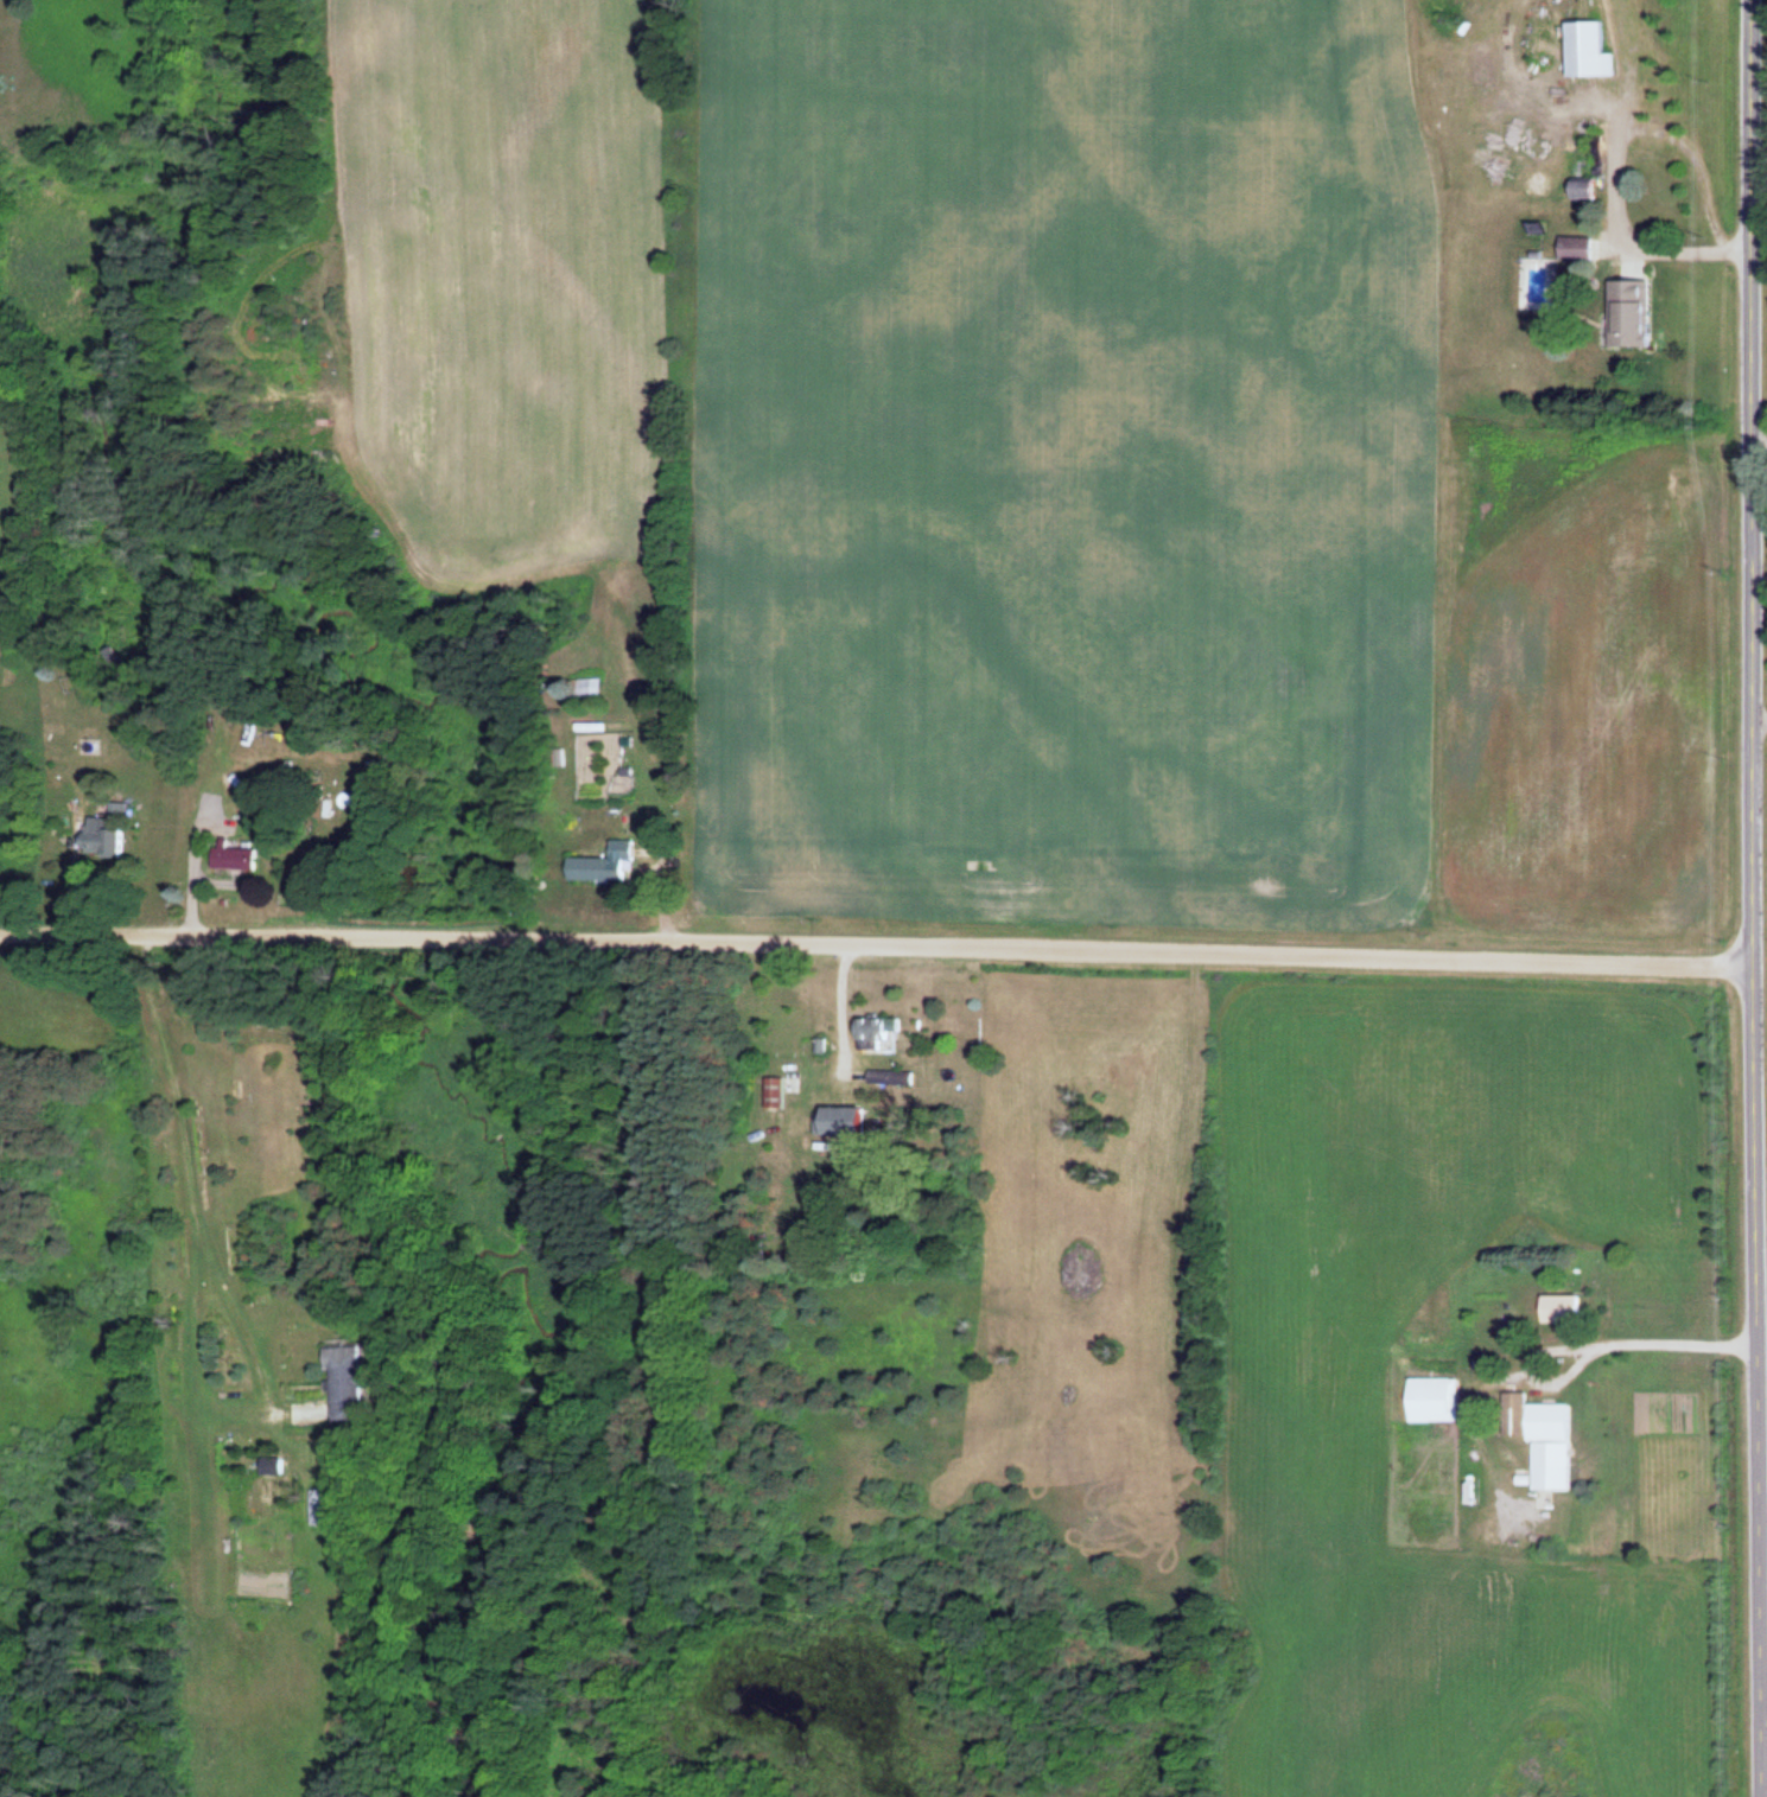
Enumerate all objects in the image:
building: (1597, 50)
building: (1590, 189)
building: (1583, 248)
building: (1640, 304)
building: (591, 686)
building: (122, 808)
building: (108, 836)
building: (242, 858)
building: (611, 865)
road: (1724, 898)
road: (862, 930)
building: (881, 1033)
building: (894, 1079)
building: (780, 1092)
building: (854, 1120)
building: (1566, 1308)
building: (350, 1383)
building: (1441, 1400)
building: (1549, 1438)
building: (324, 1508)

